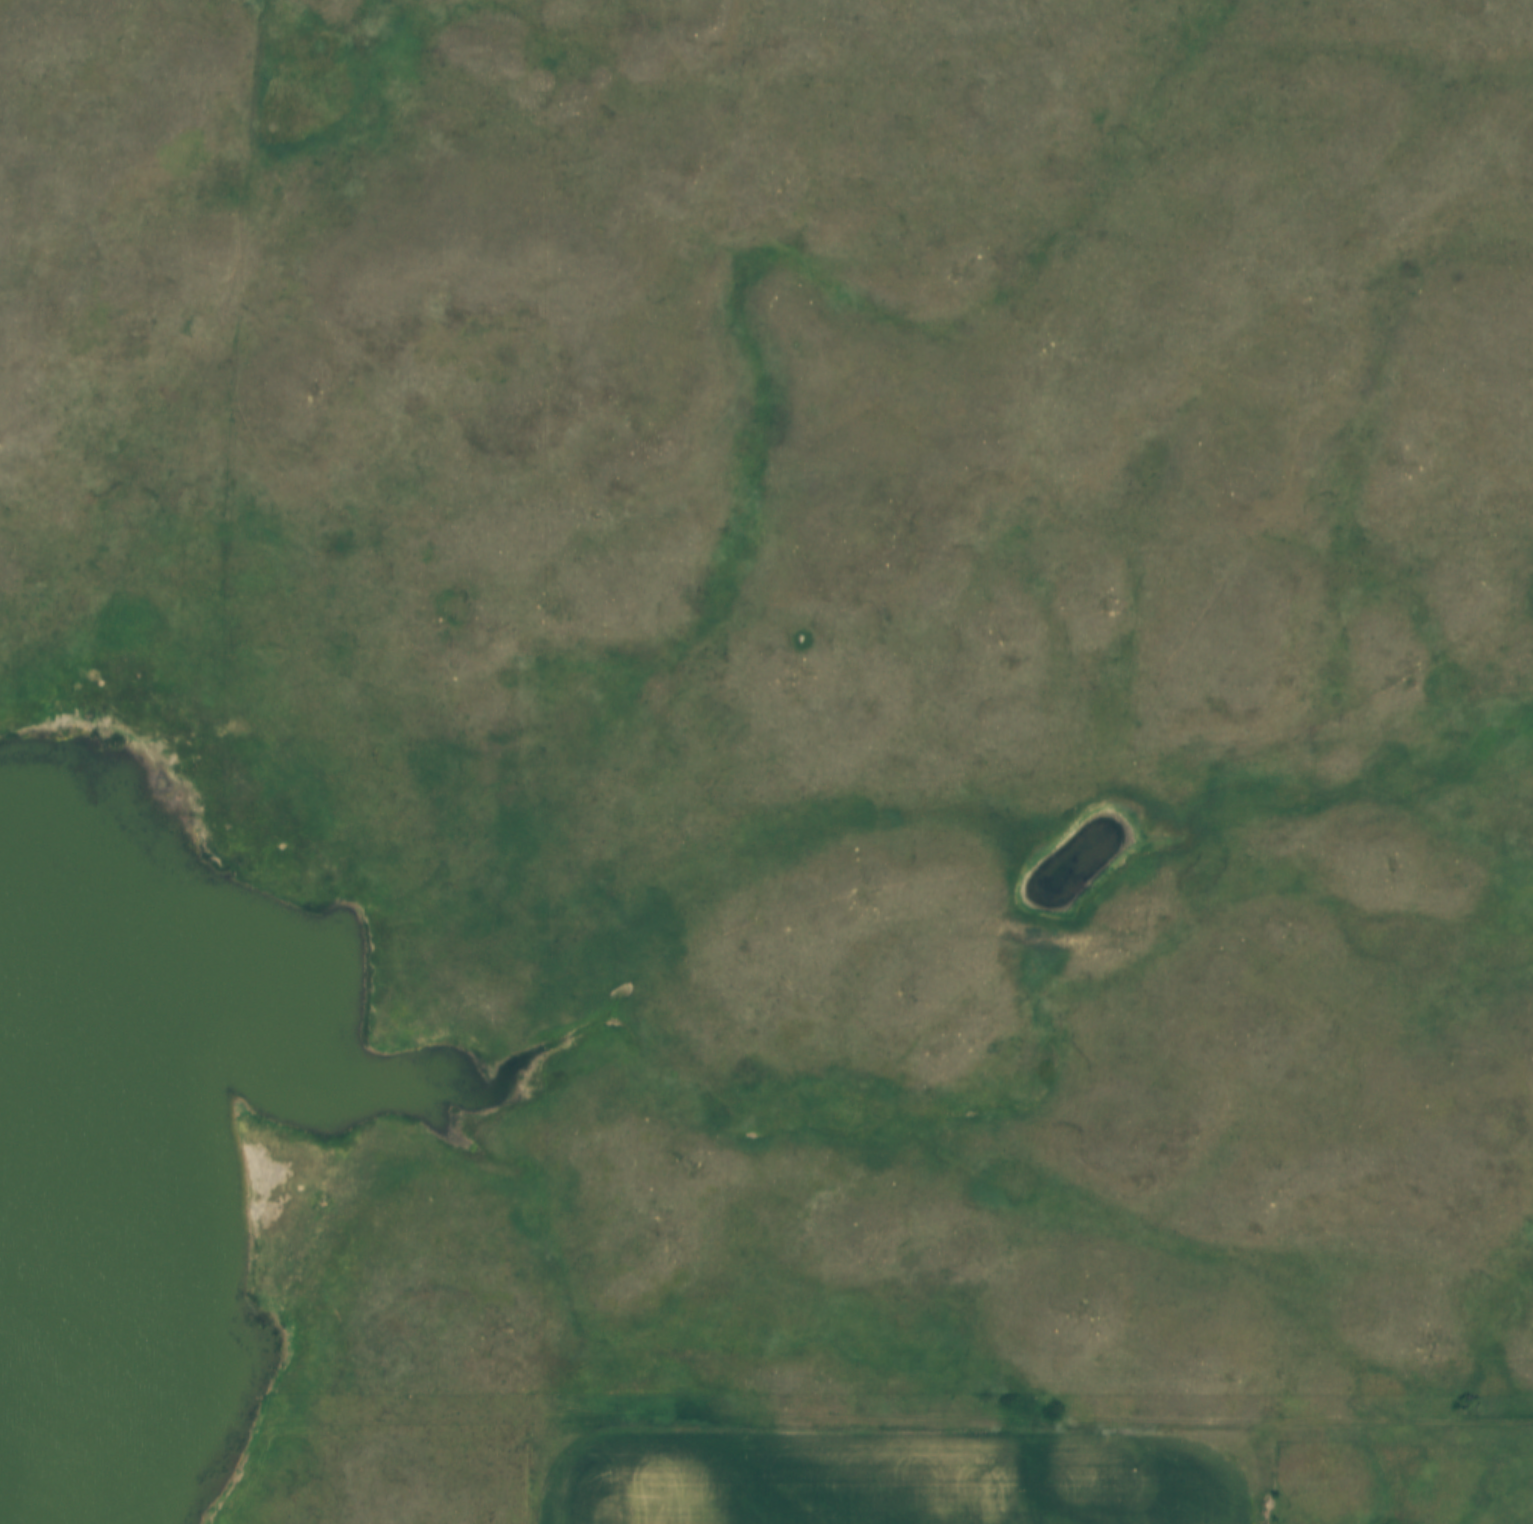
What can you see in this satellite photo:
road: (970, 1424)

